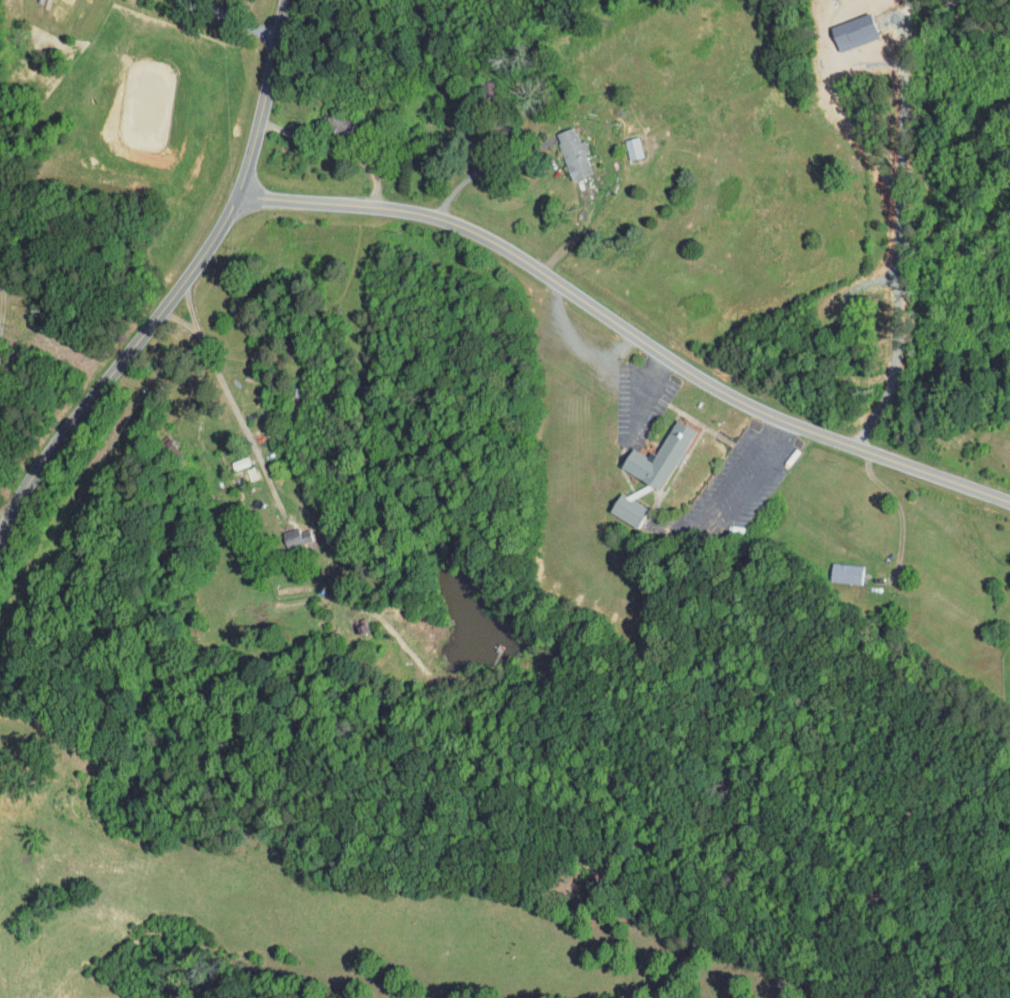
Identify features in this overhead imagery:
road: (238, 20)
building: (620, 143)
building: (561, 148)
road: (337, 152)
road: (485, 167)
road: (0, 248)
road: (177, 290)
road: (623, 332)
building: (646, 450)
building: (615, 503)
road: (898, 503)
road: (6, 517)
road: (713, 523)
building: (282, 531)
road: (443, 556)
building: (834, 567)
building: (1005, 615)
road: (524, 686)

